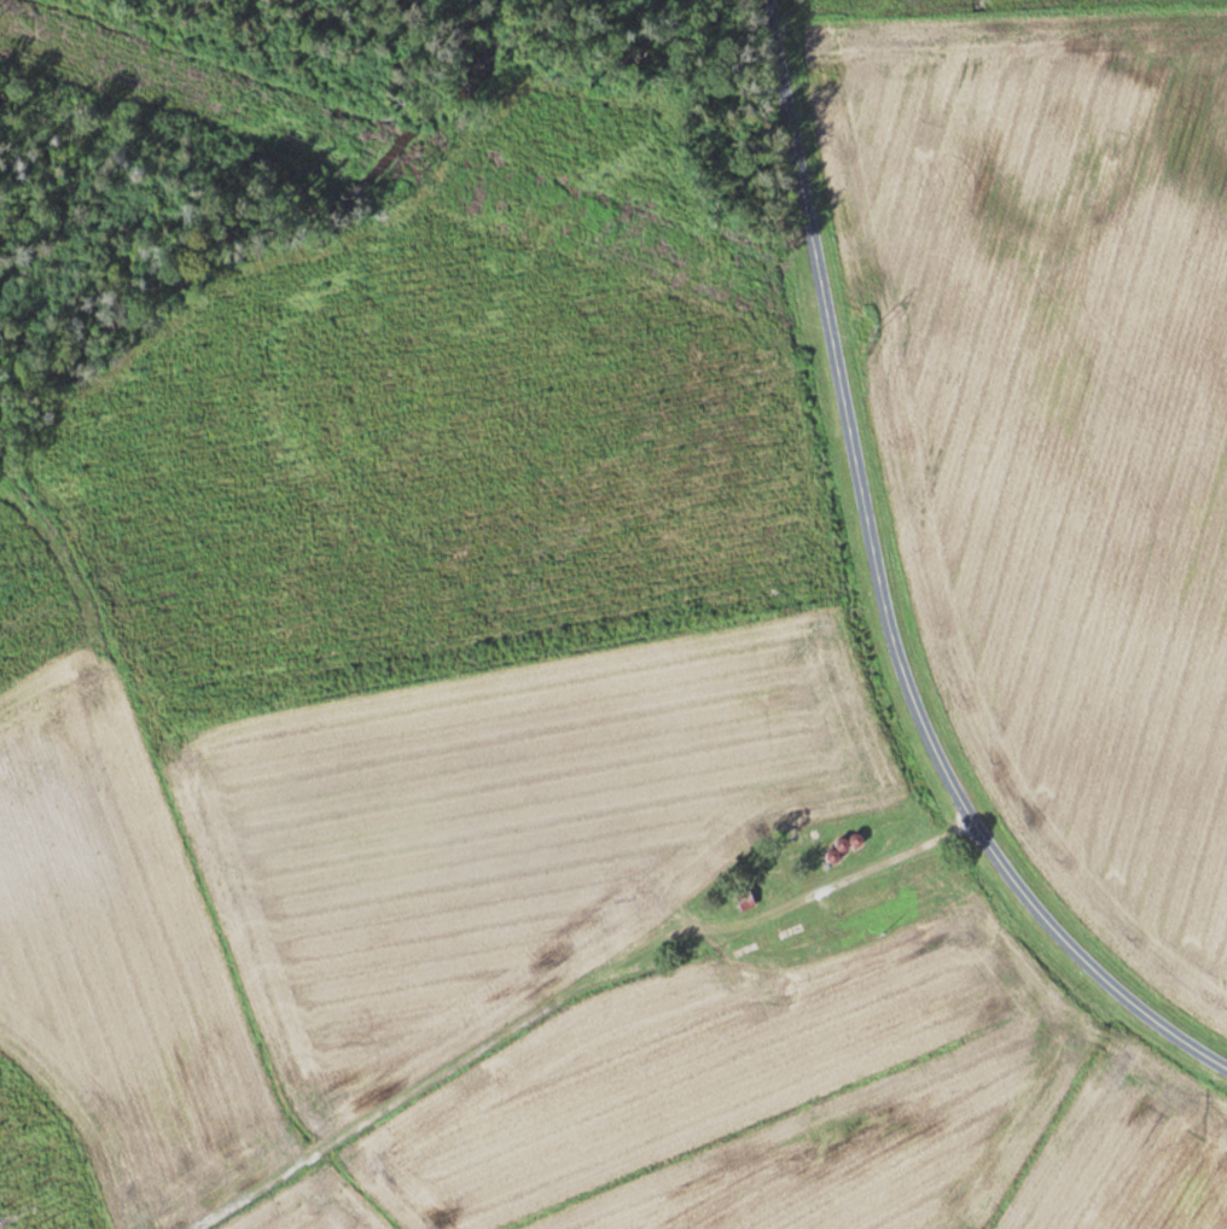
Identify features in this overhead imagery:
power tower: (421, 168)
power tower: (874, 331)
road: (886, 587)
building: (799, 839)
building: (857, 904)
building: (769, 940)

